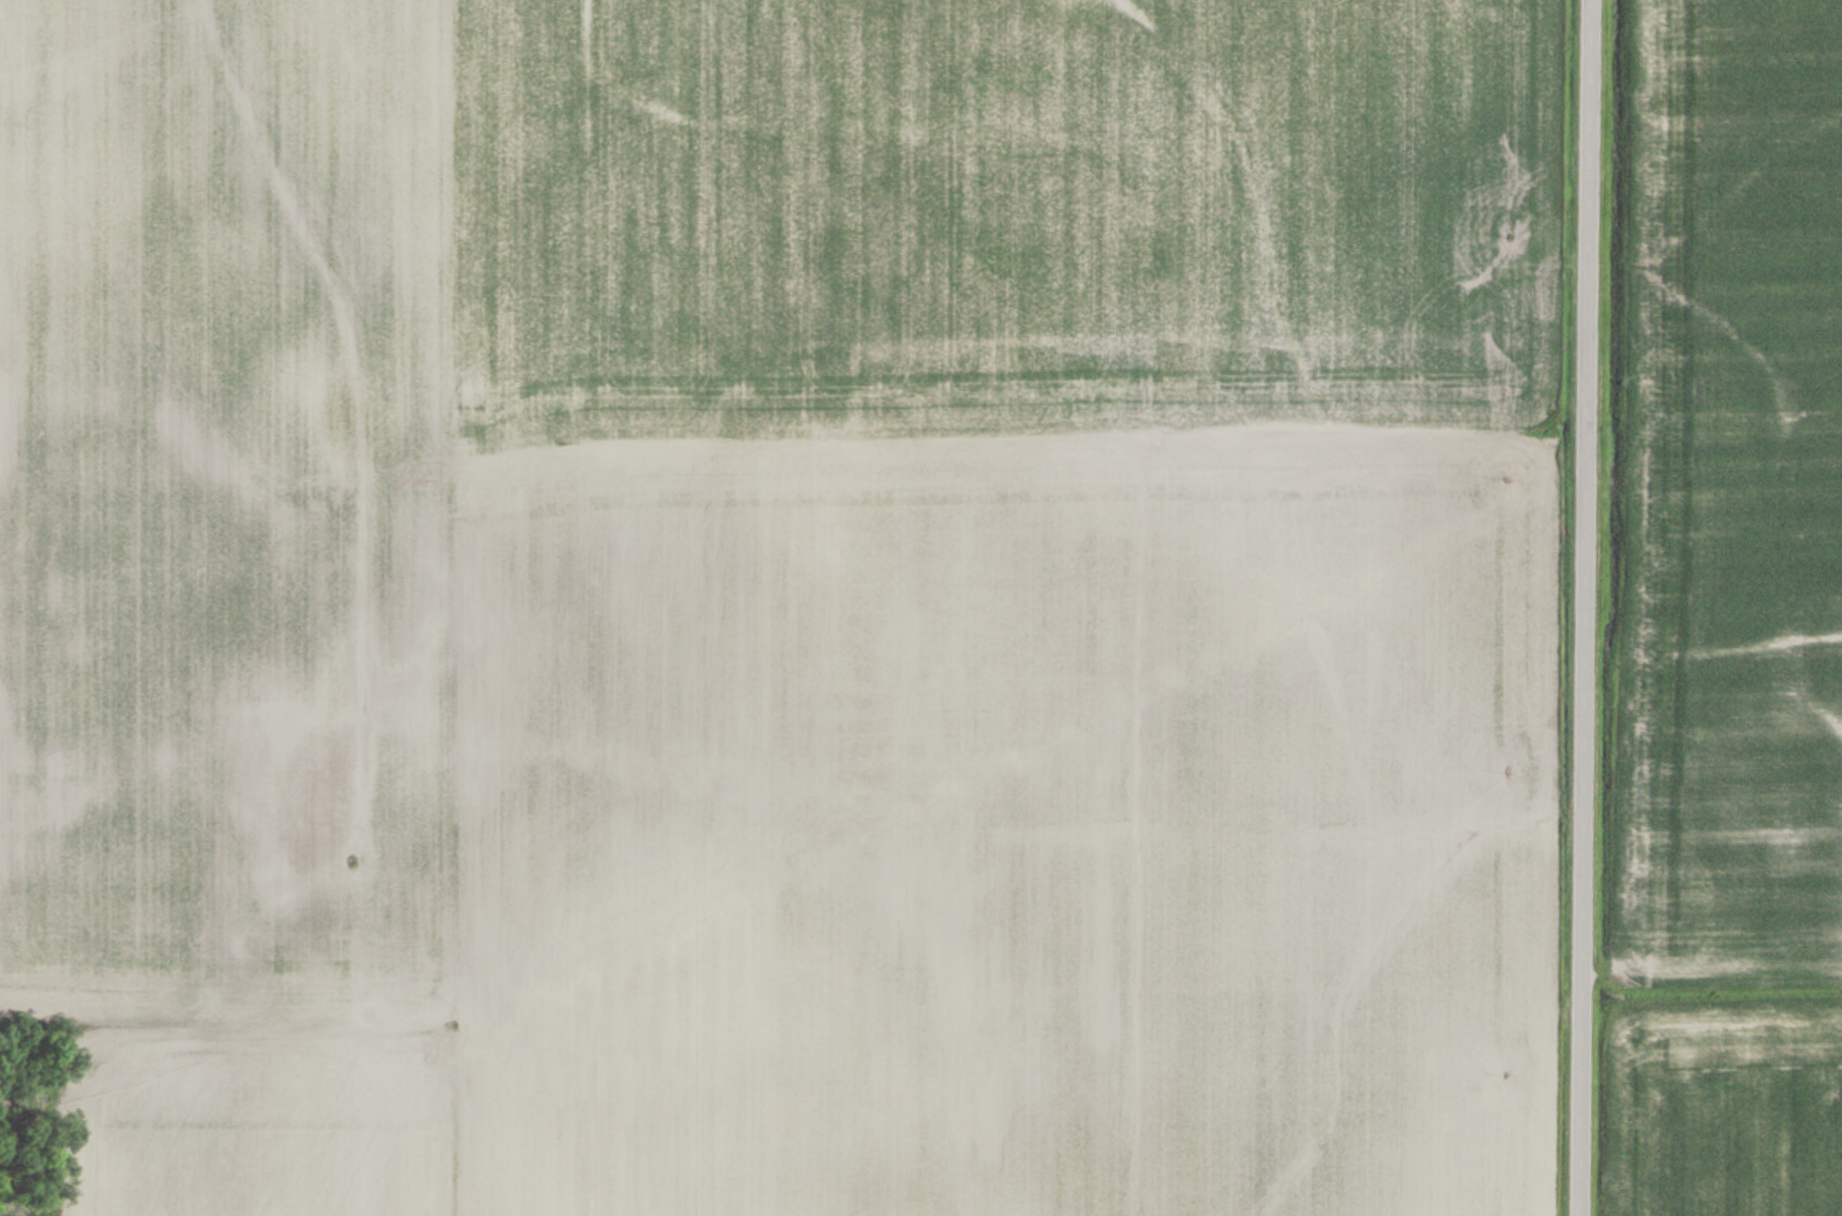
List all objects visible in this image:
road: (1586, 608)

